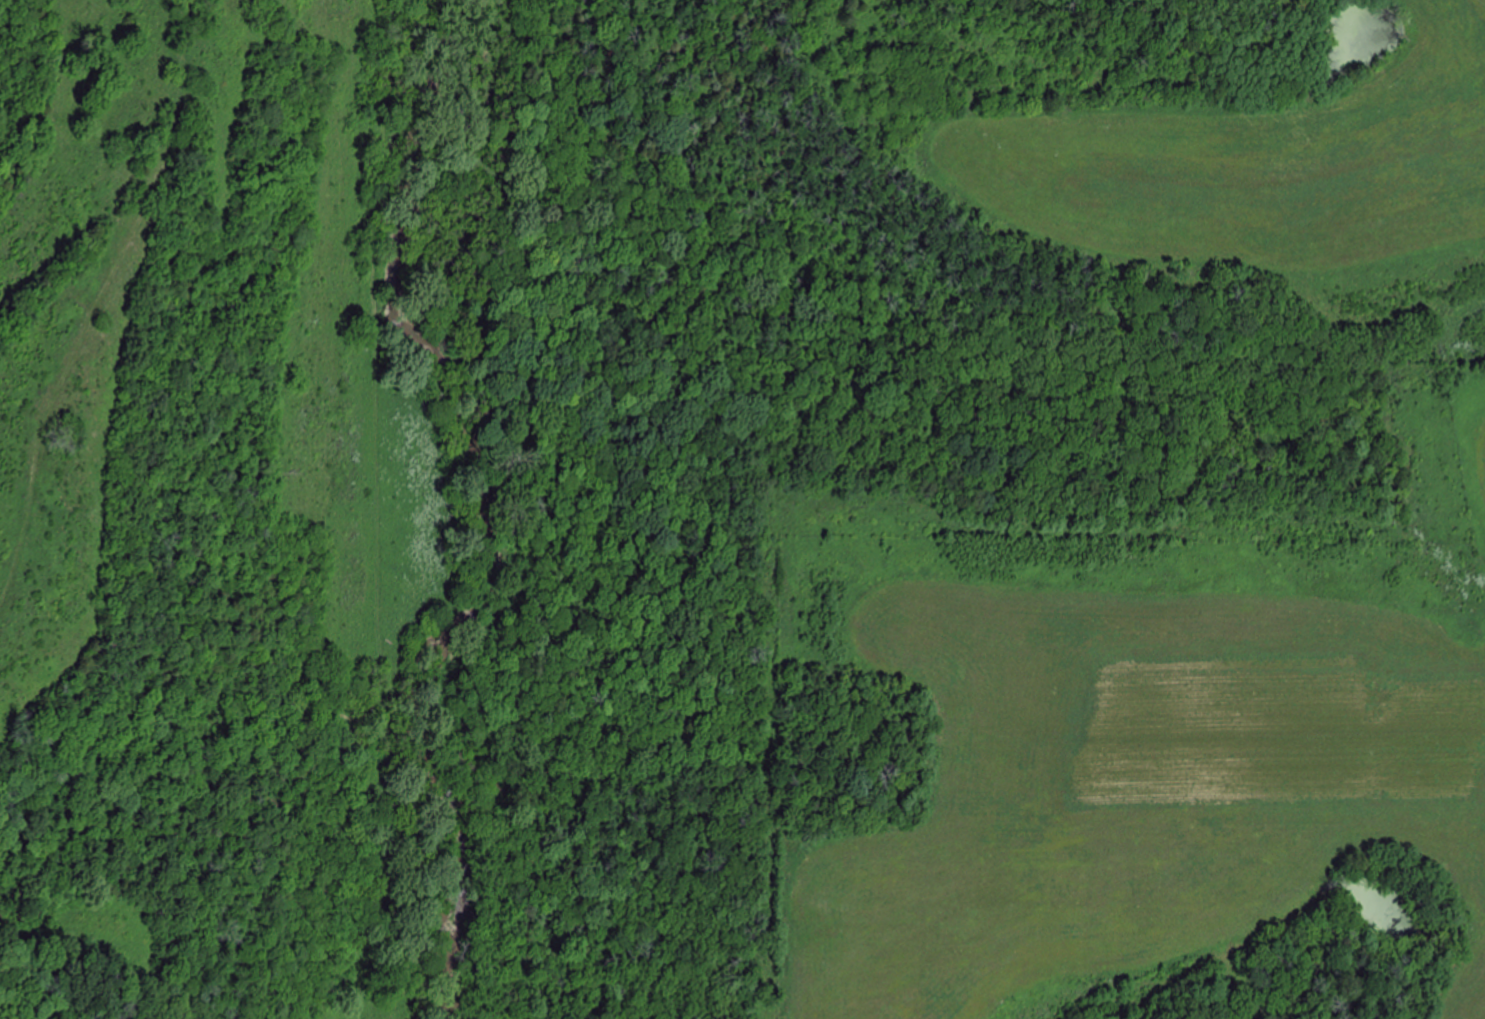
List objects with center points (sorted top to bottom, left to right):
road: (1472, 269)

